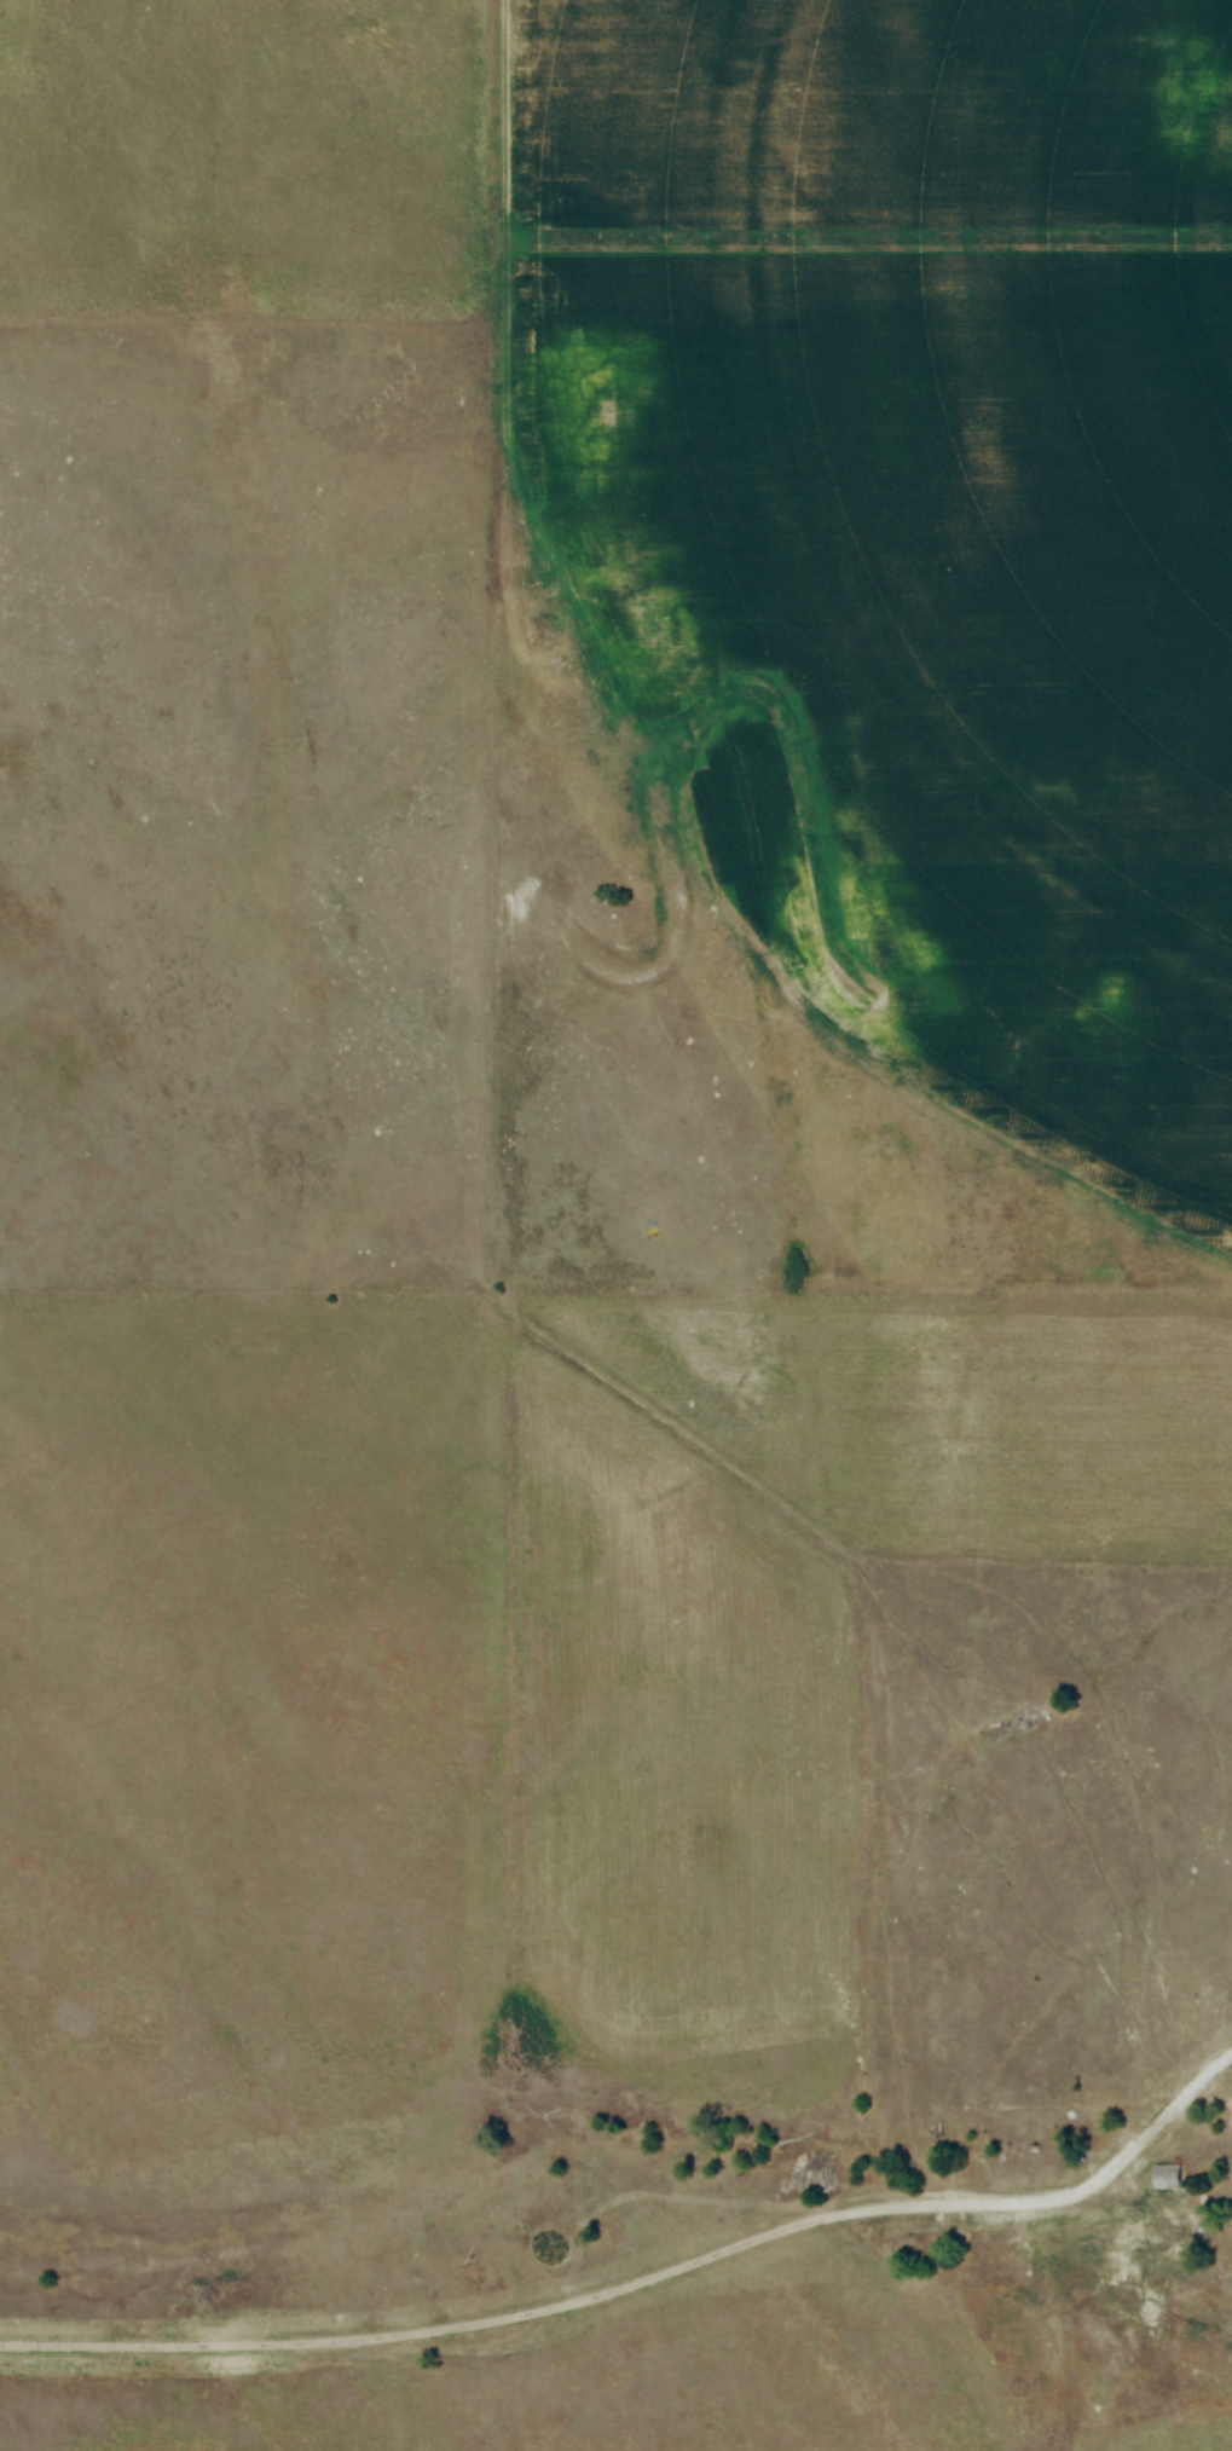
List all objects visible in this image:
building: (1169, 2177)
building: (1181, 2230)
building: (1097, 2238)
road: (572, 2271)

